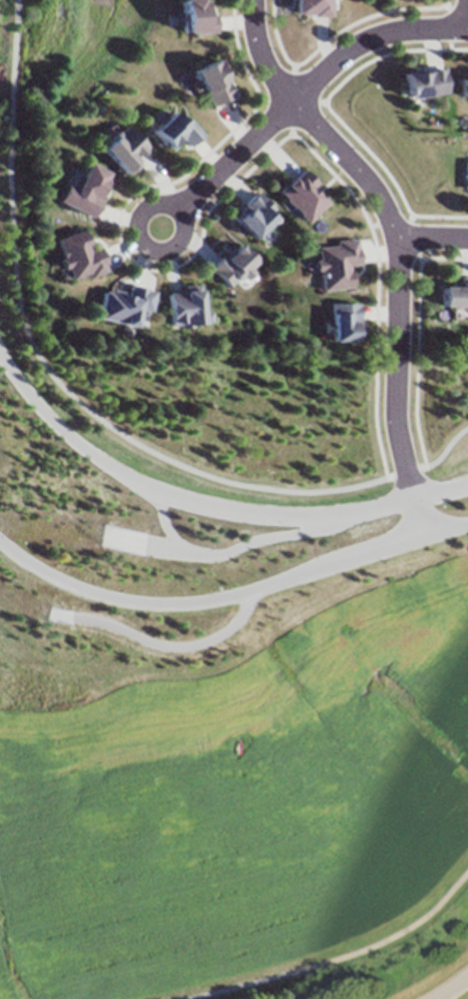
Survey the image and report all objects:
building: (312, 8)
road: (446, 8)
road: (467, 12)
building: (195, 17)
road: (449, 21)
road: (333, 37)
road: (370, 40)
park: (84, 47)
road: (292, 70)
building: (212, 82)
building: (424, 82)
building: (464, 91)
road: (261, 101)
road: (319, 104)
road: (323, 104)
road: (336, 119)
building: (174, 130)
road: (291, 134)
building: (121, 149)
road: (229, 168)
building: (466, 174)
building: (82, 190)
building: (302, 194)
road: (217, 202)
building: (254, 215)
road: (408, 219)
road: (411, 240)
road: (432, 240)
road: (397, 244)
building: (80, 255)
road: (417, 259)
building: (334, 265)
building: (229, 267)
building: (454, 295)
building: (126, 304)
building: (186, 308)
building: (341, 320)
road: (415, 340)
road: (80, 406)
road: (209, 504)
road: (166, 521)
road: (225, 550)
road: (231, 591)
road: (164, 642)
crop: (238, 793)
road: (338, 959)
road: (453, 988)

